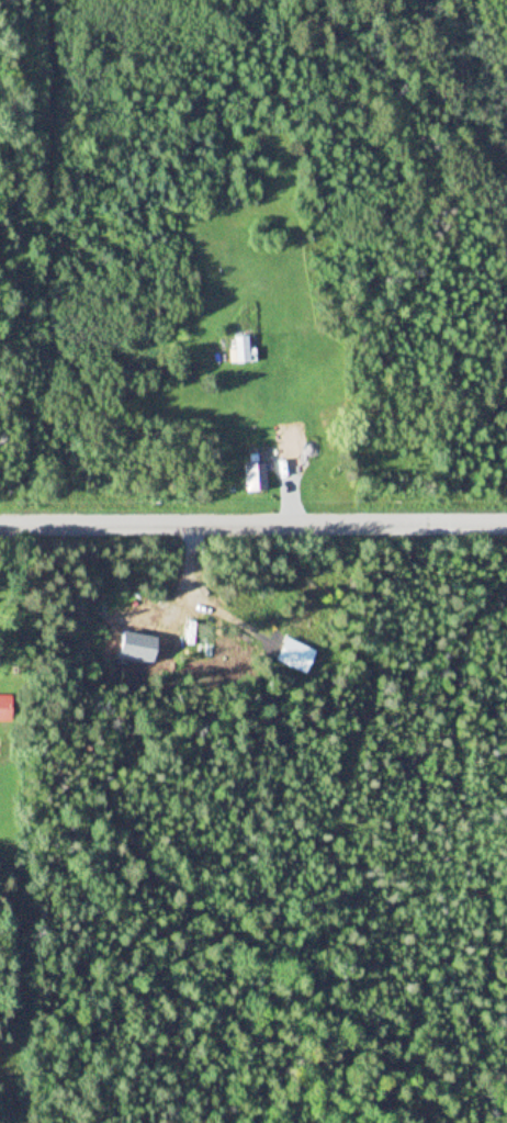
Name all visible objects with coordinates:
building: (244, 350)
building: (256, 476)
road: (252, 524)
building: (4, 709)

